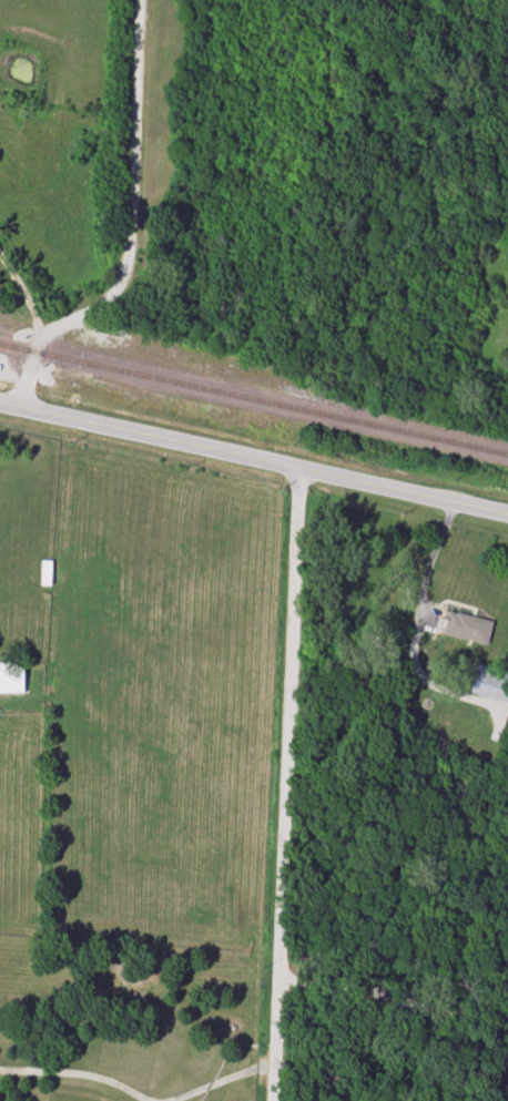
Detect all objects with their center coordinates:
road: (130, 230)
road: (23, 293)
railway: (253, 399)
road: (254, 460)
road: (425, 562)
building: (45, 574)
building: (467, 628)
building: (11, 679)
building: (490, 683)
road: (286, 785)
road: (393, 1000)
road: (140, 1094)

